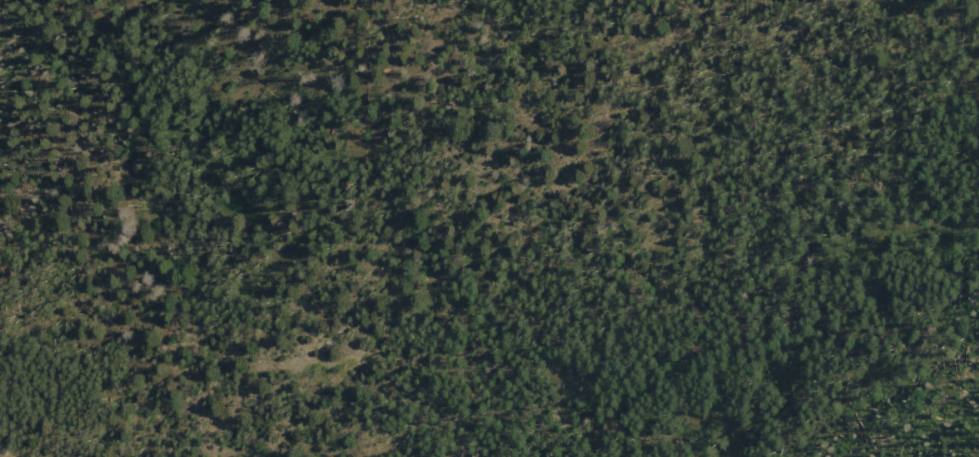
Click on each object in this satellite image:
road: (895, 396)

